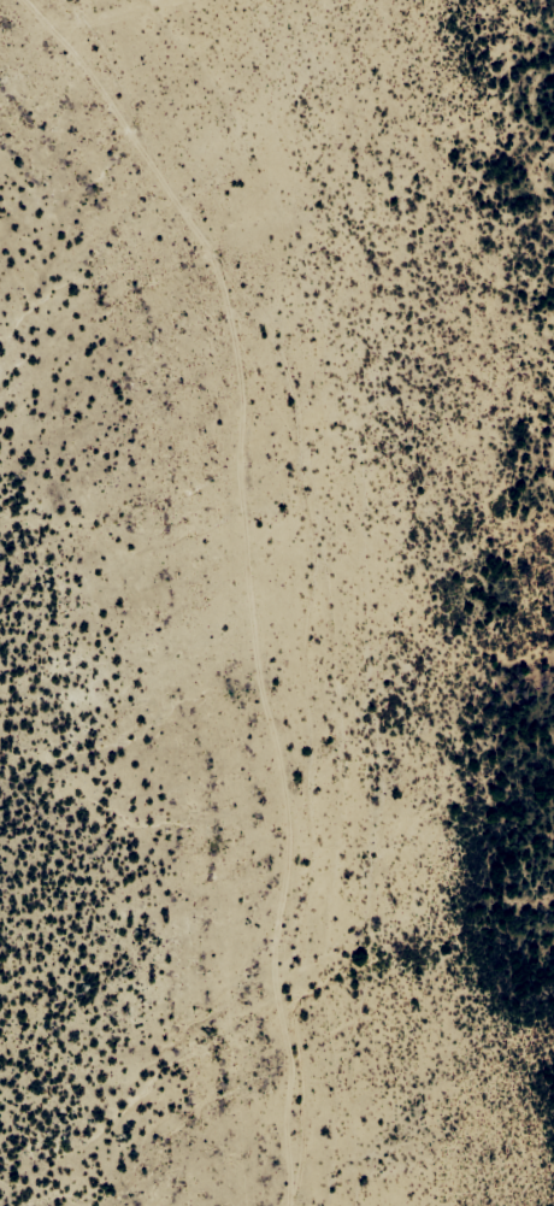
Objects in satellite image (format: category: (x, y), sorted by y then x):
road: (271, 586)

